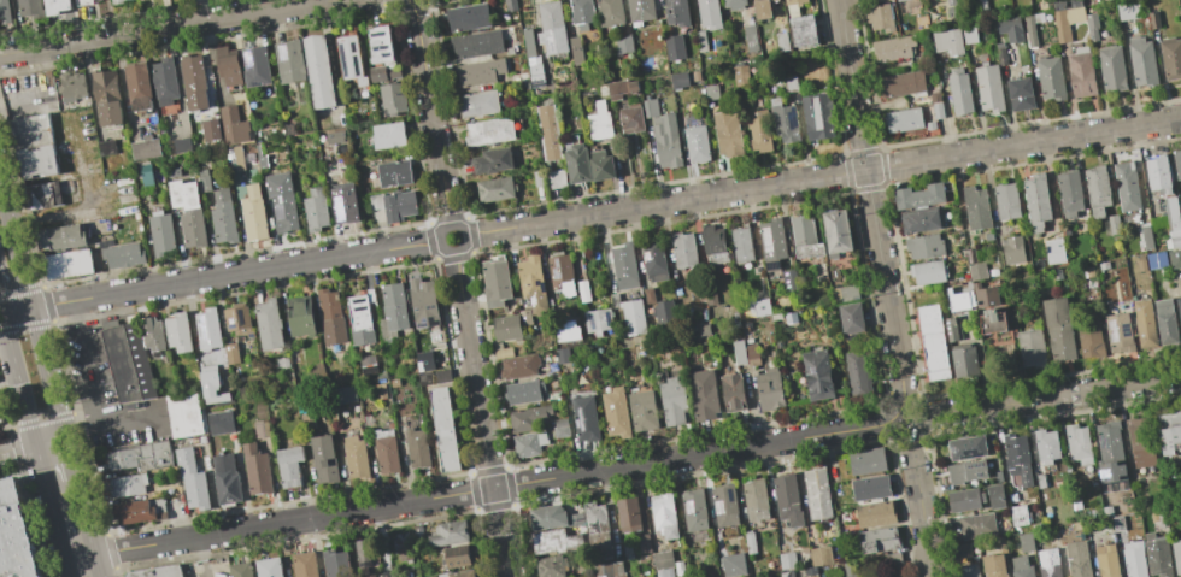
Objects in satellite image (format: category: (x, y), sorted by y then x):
building: (900, 0)
building: (83, 1)
building: (116, 1)
building: (794, 1)
building: (733, 4)
building: (1065, 4)
building: (509, 5)
building: (55, 6)
building: (29, 8)
building: (762, 8)
building: (640, 10)
building: (1127, 10)
building: (4, 12)
building: (609, 12)
building: (676, 12)
building: (1180, 12)
building: (581, 13)
building: (707, 14)
building: (468, 17)
building: (880, 17)
building: (1038, 17)
building: (1152, 19)
building: (1067, 22)
building: (1092, 25)
road: (164, 27)
building: (552, 27)
building: (1010, 28)
building: (1029, 30)
building: (801, 31)
rooftop solar panel: (380, 33)
building: (968, 34)
building: (654, 36)
building: (750, 37)
building: (699, 40)
building: (781, 41)
building: (948, 41)
building: (528, 42)
building: (380, 43)
rooftop solar panel: (548, 43)
building: (475, 45)
building: (623, 45)
rooftop solar panel: (352, 46)
rooftop solar panel: (383, 46)
rooftop solar panel: (375, 47)
building: (674, 47)
building: (893, 47)
building: (577, 49)
rooftop solar panel: (286, 51)
rooftop solar panel: (386, 53)
building: (1000, 53)
building: (1170, 58)
building: (349, 59)
building: (288, 60)
rooftop solar panel: (342, 60)
building: (1142, 61)
rooftop solar panel: (354, 63)
building: (228, 64)
building: (254, 65)
building: (1112, 67)
building: (318, 71)
building: (384, 71)
building: (477, 72)
building: (1081, 72)
building: (534, 75)
building: (740, 75)
building: (1050, 78)
building: (677, 80)
building: (193, 81)
building: (789, 83)
building: (901, 83)
building: (137, 84)
building: (164, 84)
building: (71, 86)
building: (623, 88)
building: (988, 88)
building: (711, 92)
building: (959, 92)
building: (1021, 94)
building: (106, 96)
building: (392, 98)
building: (478, 104)
building: (936, 105)
road: (429, 111)
building: (816, 116)
rooftop solar panel: (791, 117)
building: (903, 119)
building: (783, 120)
building: (598, 122)
building: (629, 122)
building: (233, 125)
building: (929, 125)
building: (210, 129)
building: (758, 130)
building: (488, 131)
building: (547, 131)
building: (727, 133)
building: (387, 135)
building: (662, 135)
building: (334, 136)
building: (695, 143)
building: (181, 145)
building: (34, 146)
building: (106, 147)
building: (143, 149)
building: (234, 158)
building: (492, 160)
building: (262, 161)
building: (576, 161)
building: (1176, 163)
building: (600, 165)
building: (393, 172)
building: (146, 175)
building: (1158, 175)
road: (822, 176)
building: (537, 178)
building: (556, 178)
building: (204, 182)
building: (1126, 186)
building: (494, 188)
building: (1097, 189)
building: (1069, 193)
building: (42, 195)
building: (918, 195)
building: (281, 201)
building: (1006, 201)
building: (1036, 201)
building: (343, 202)
building: (394, 205)
road: (871, 206)
building: (975, 207)
building: (315, 208)
building: (188, 213)
building: (252, 214)
building: (222, 216)
building: (921, 220)
building: (1171, 222)
building: (1112, 224)
building: (160, 232)
building: (836, 232)
building: (804, 236)
building: (988, 236)
building: (1146, 236)
building: (61, 237)
rooftop solar panel: (769, 239)
road: (464, 241)
building: (740, 243)
building: (771, 243)
building: (713, 245)
building: (924, 246)
building: (683, 248)
building: (1012, 249)
building: (1053, 251)
building: (970, 253)
building: (122, 254)
building: (1174, 258)
building: (653, 259)
building: (1156, 260)
building: (67, 263)
building: (1103, 265)
building: (1141, 265)
building: (623, 266)
building: (976, 270)
building: (993, 271)
building: (1088, 271)
building: (927, 272)
rooftop solar panel: (559, 273)
building: (560, 273)
building: (1057, 273)
road: (221, 275)
building: (789, 279)
building: (494, 282)
building: (531, 283)
rooftop solar panel: (542, 284)
rooftop solar panel: (541, 290)
building: (582, 290)
building: (844, 293)
building: (648, 295)
rooftop solar panel: (357, 299)
building: (711, 299)
rooftop solar panel: (534, 300)
building: (615, 300)
building: (957, 300)
building: (422, 302)
road: (1, 307)
rooftop solar panel: (359, 307)
road: (31, 308)
building: (988, 308)
building: (1179, 308)
building: (758, 310)
rooftop solar panel: (230, 311)
road: (76, 312)
building: (392, 313)
building: (664, 313)
rooftop solar panel: (242, 314)
building: (299, 316)
building: (329, 317)
building: (359, 317)
building: (524, 317)
building: (634, 317)
building: (789, 317)
building: (851, 318)
rooftop solar panel: (606, 319)
building: (240, 320)
building: (597, 320)
building: (1164, 320)
rooftop solar panel: (592, 322)
rooftop solar panel: (233, 323)
building: (1144, 323)
building: (269, 324)
building: (506, 328)
building: (207, 329)
building: (704, 329)
building: (951, 329)
building: (1058, 329)
rooftop solar panel: (1126, 329)
building: (566, 330)
rooftop solar panel: (1112, 330)
building: (177, 331)
building: (1118, 331)
building: (152, 332)
building: (1089, 336)
building: (933, 342)
road: (6, 348)
building: (1030, 348)
building: (500, 351)
building: (230, 352)
building: (739, 352)
building: (751, 353)
building: (562, 355)
building: (127, 360)
building: (424, 360)
building: (963, 361)
building: (282, 363)
building: (366, 364)
building: (518, 365)
rooftop solar panel: (815, 369)
building: (816, 375)
building: (433, 376)
building: (858, 376)
building: (210, 384)
building: (769, 389)
building: (380, 390)
building: (523, 391)
building: (733, 391)
building: (703, 394)
building: (341, 395)
road: (1046, 396)
building: (672, 400)
road: (98, 405)
building: (642, 411)
building: (615, 412)
road: (480, 413)
building: (184, 414)
road: (29, 416)
building: (528, 417)
building: (1, 418)
building: (584, 418)
building: (306, 419)
road: (907, 419)
road: (81, 423)
building: (219, 423)
building: (560, 428)
building: (260, 429)
building: (443, 429)
building: (1168, 429)
road: (49, 437)
building: (1140, 441)
building: (527, 443)
building: (1077, 443)
building: (1045, 446)
road: (17, 447)
building: (966, 447)
building: (416, 448)
building: (384, 451)
building: (1109, 452)
rooftop solar panel: (966, 453)
road: (69, 457)
building: (354, 457)
building: (139, 458)
building: (323, 458)
building: (1017, 458)
building: (866, 461)
rooftop solar panel: (976, 464)
building: (288, 466)
building: (257, 470)
building: (966, 471)
rooftop solar panel: (979, 473)
building: (190, 478)
building: (227, 479)
building: (1039, 479)
building: (127, 485)
road: (498, 485)
building: (869, 487)
building: (817, 493)
rooftop solar panel: (730, 495)
building: (995, 496)
building: (787, 499)
building: (754, 500)
building: (964, 500)
road: (921, 501)
building: (724, 505)
rooftop solar panel: (689, 506)
rooftop solar panel: (719, 507)
building: (693, 510)
building: (1106, 511)
building: (135, 512)
building: (1094, 512)
building: (875, 513)
building: (628, 514)
building: (664, 514)
building: (1018, 516)
building: (547, 517)
building: (594, 517)
building: (1117, 523)
building: (979, 525)
road: (88, 526)
building: (448, 532)
building: (16, 535)
road: (60, 540)
building: (877, 540)
road: (382, 541)
building: (553, 541)
building: (642, 542)
building: (750, 542)
building: (1024, 542)
building: (403, 546)
building: (959, 550)
building: (364, 554)
building: (1176, 554)
building: (456, 555)
building: (819, 555)
building: (1156, 555)
road: (80, 558)
building: (1077, 559)
building: (1134, 559)
building: (787, 560)
building: (1106, 560)
building: (893, 561)
building: (336, 564)
building: (663, 564)
building: (733, 564)
building: (305, 565)
building: (550, 566)
building: (995, 566)
building: (1052, 566)
building: (270, 567)
building: (678, 567)
building: (1022, 567)
road: (66, 569)
building: (848, 569)
building: (242, 570)
building: (609, 570)
building: (810, 570)
building: (970, 570)
building: (158, 572)
building: (458, 573)

